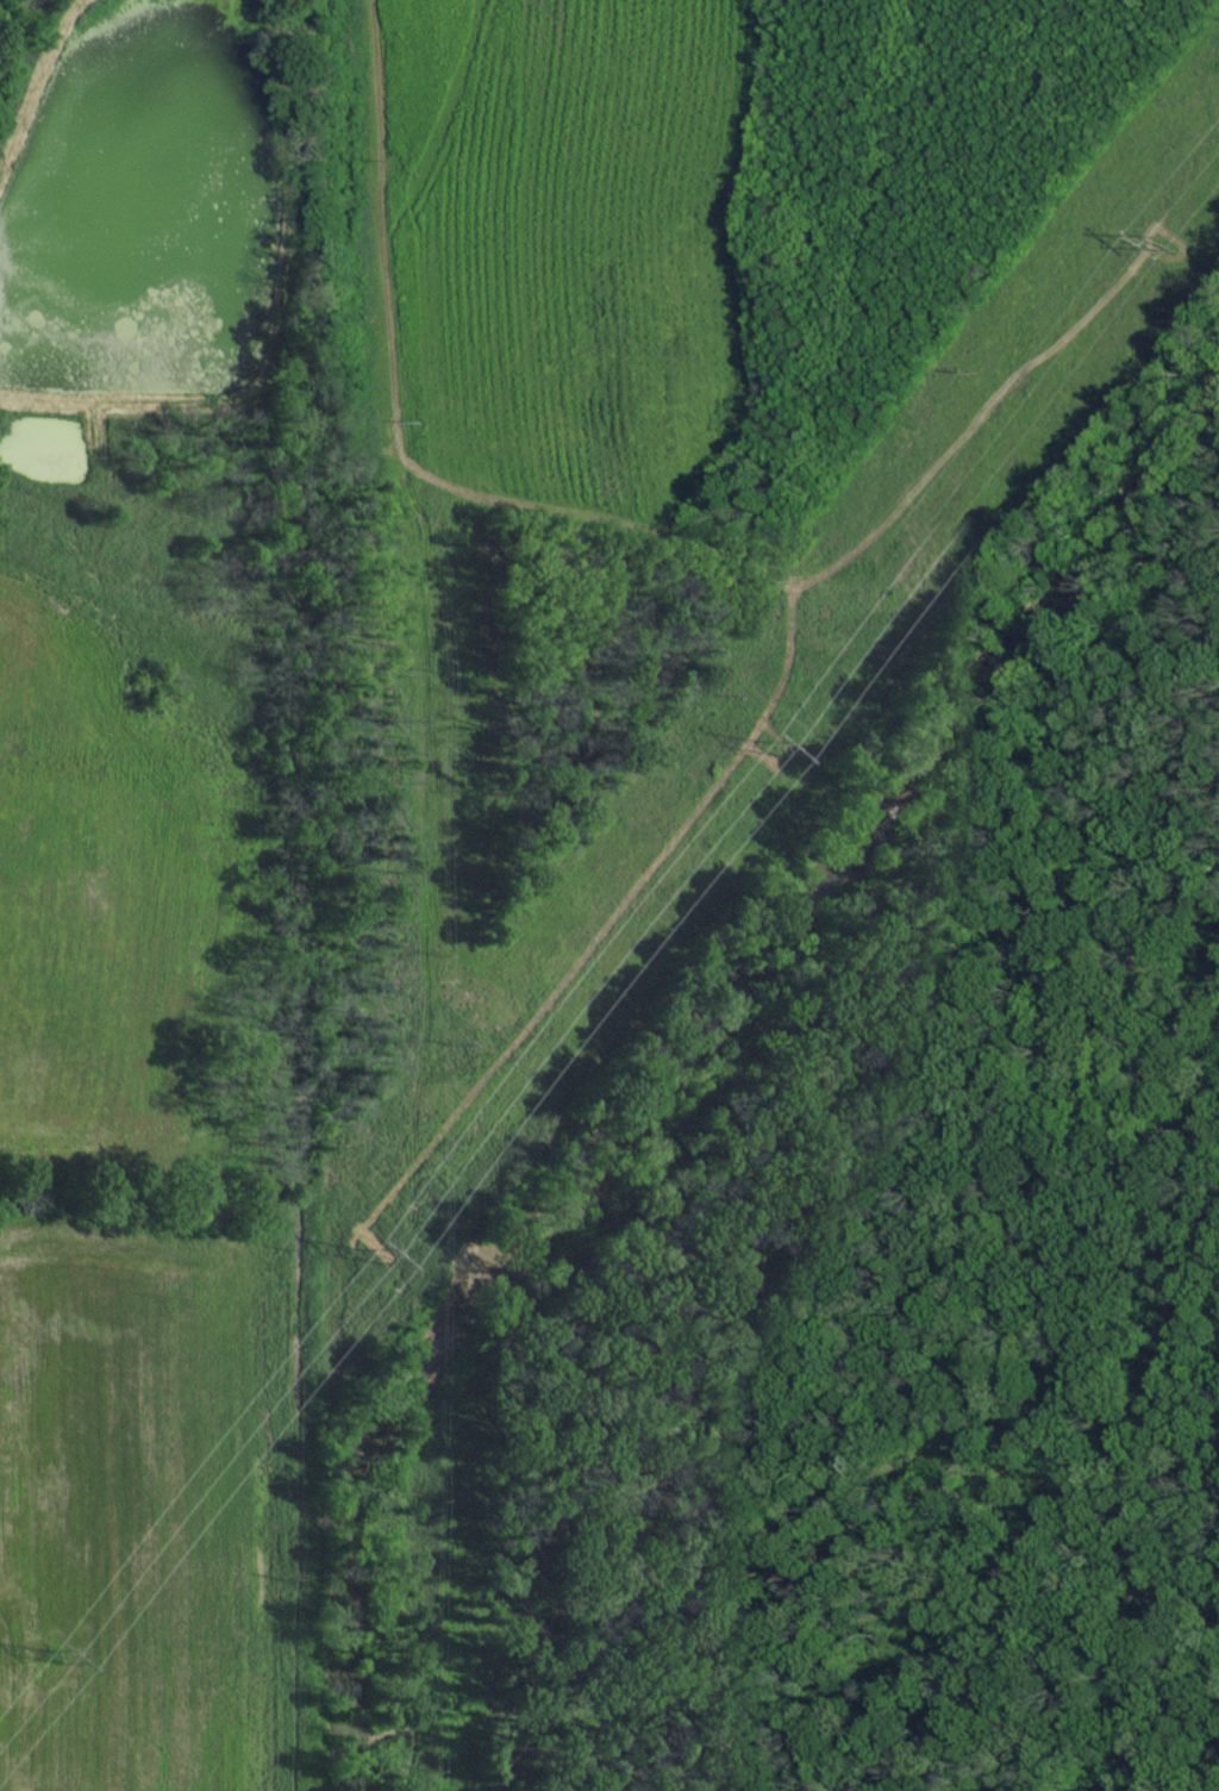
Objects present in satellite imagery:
power tower: (1162, 243)
power tower: (768, 750)
power tower: (368, 1258)
power tower: (54, 1658)

